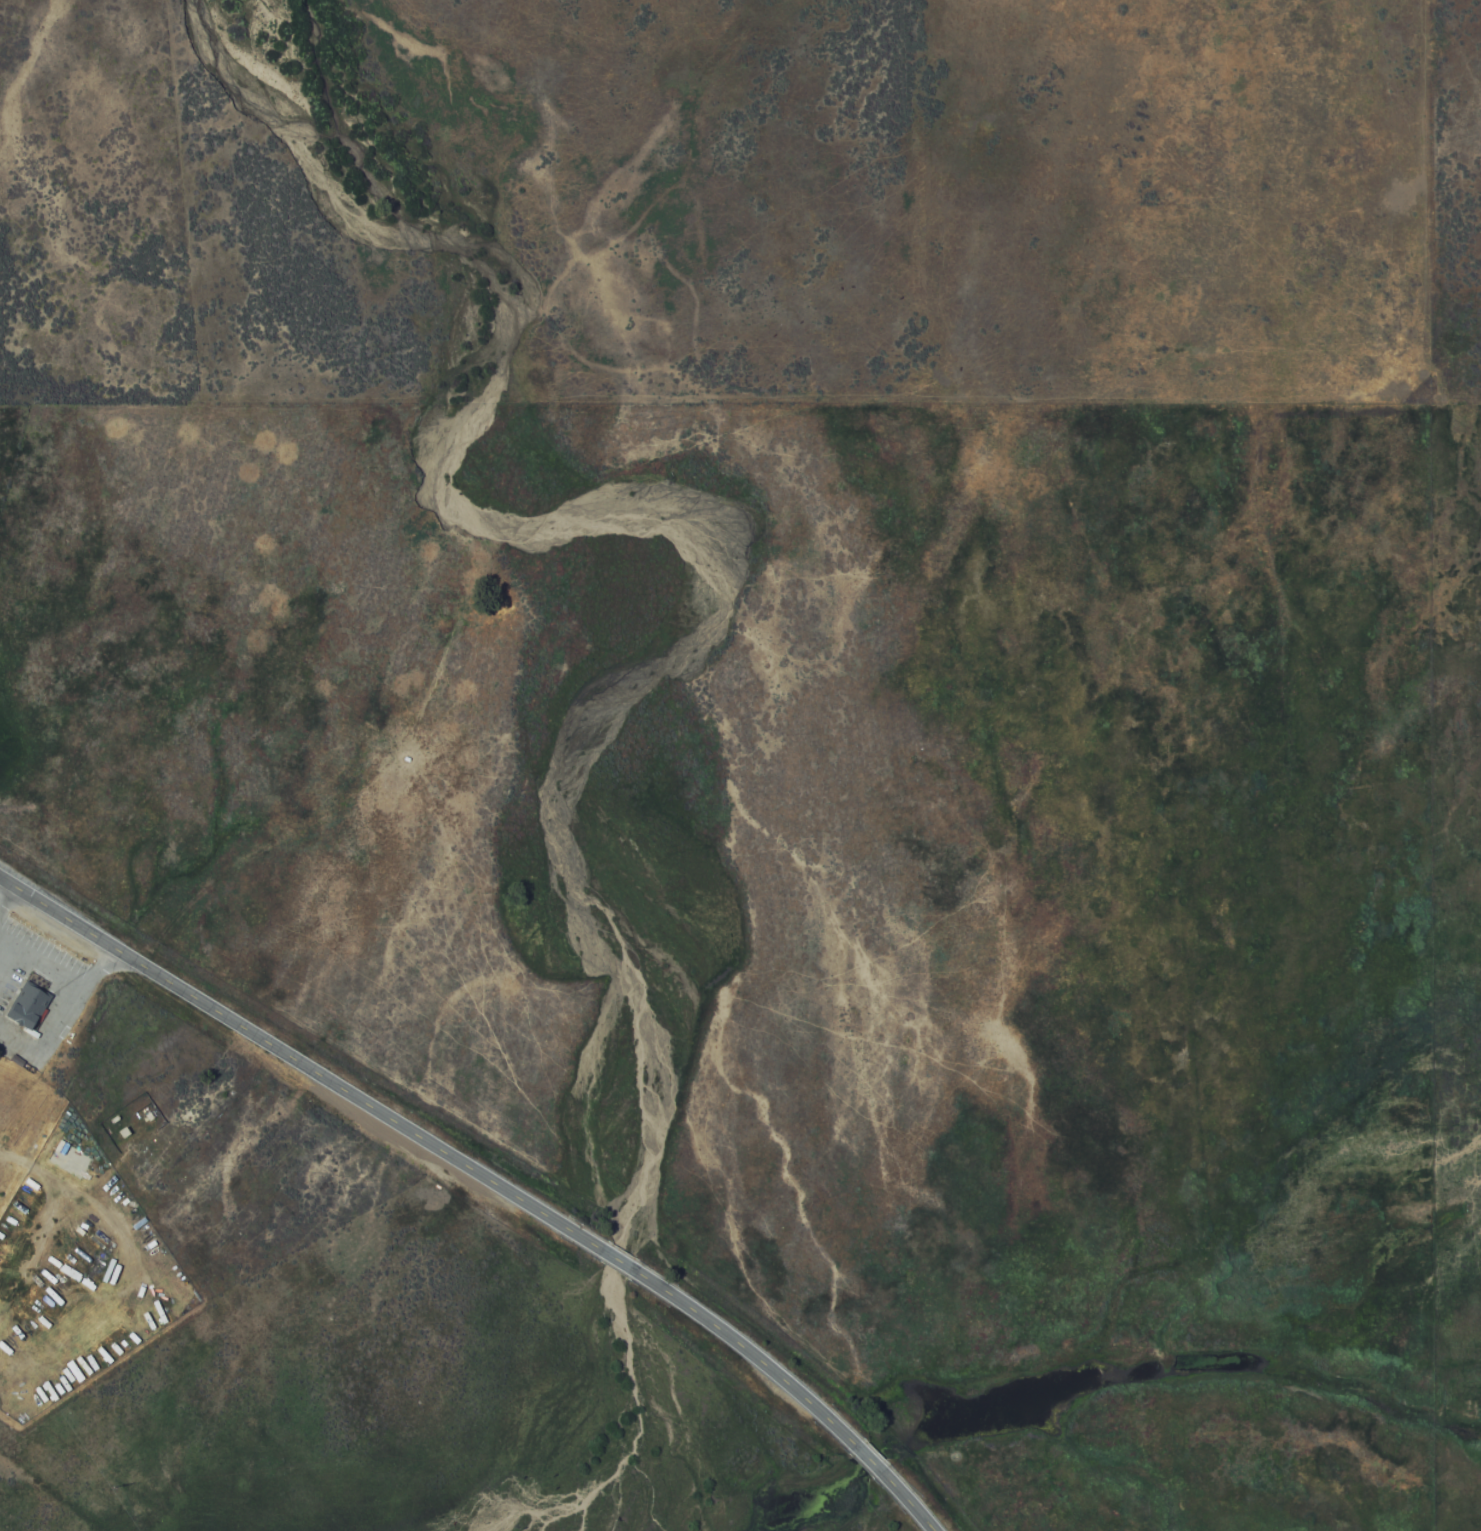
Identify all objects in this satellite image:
road: (16, 887)
road: (7, 899)
road: (74, 923)
road: (46, 955)
road: (77, 1002)
building: (25, 1006)
road: (18, 1046)
road: (357, 1097)
road: (617, 1260)
road: (750, 1353)
road: (869, 1459)
road: (908, 1501)

